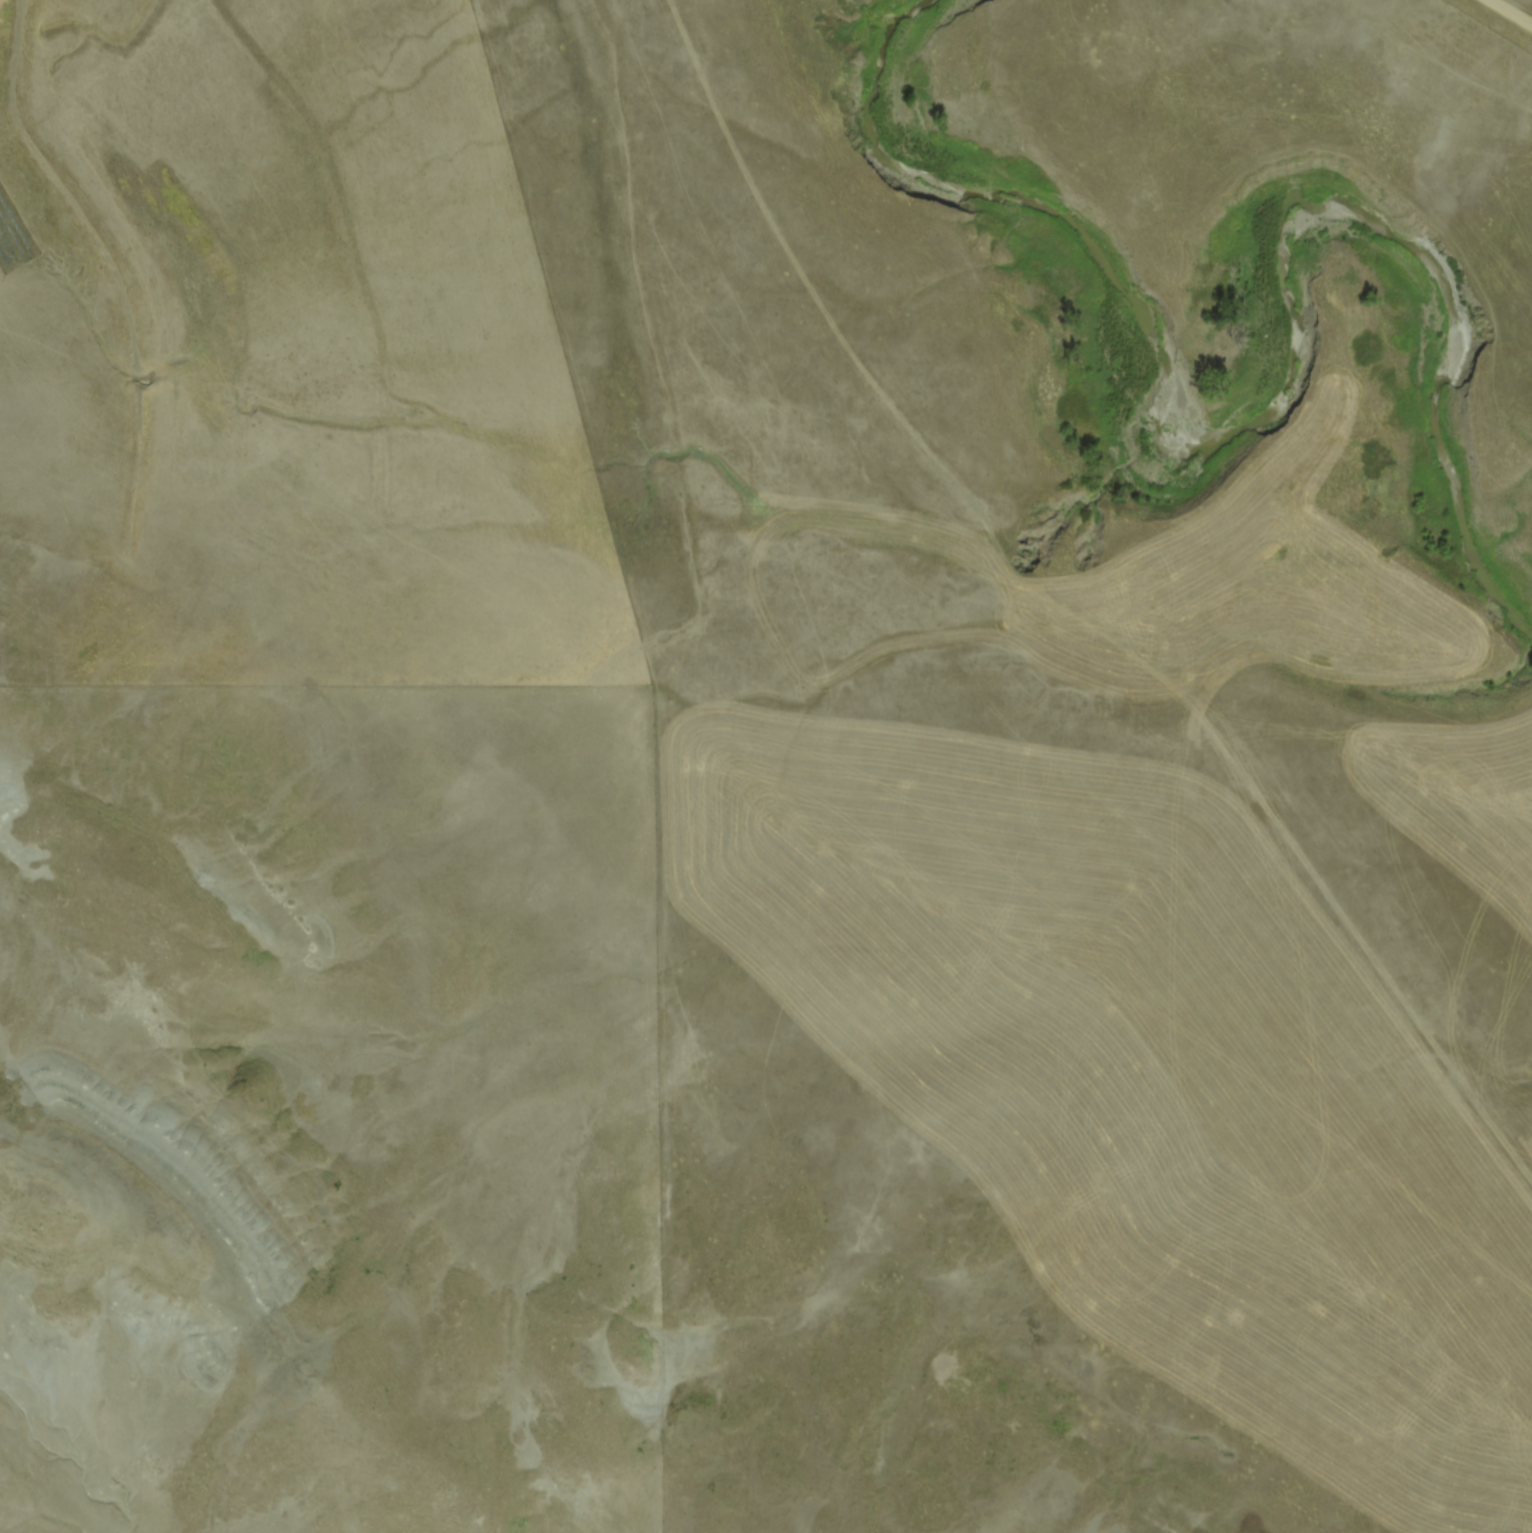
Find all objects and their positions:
road: (1510, 12)

